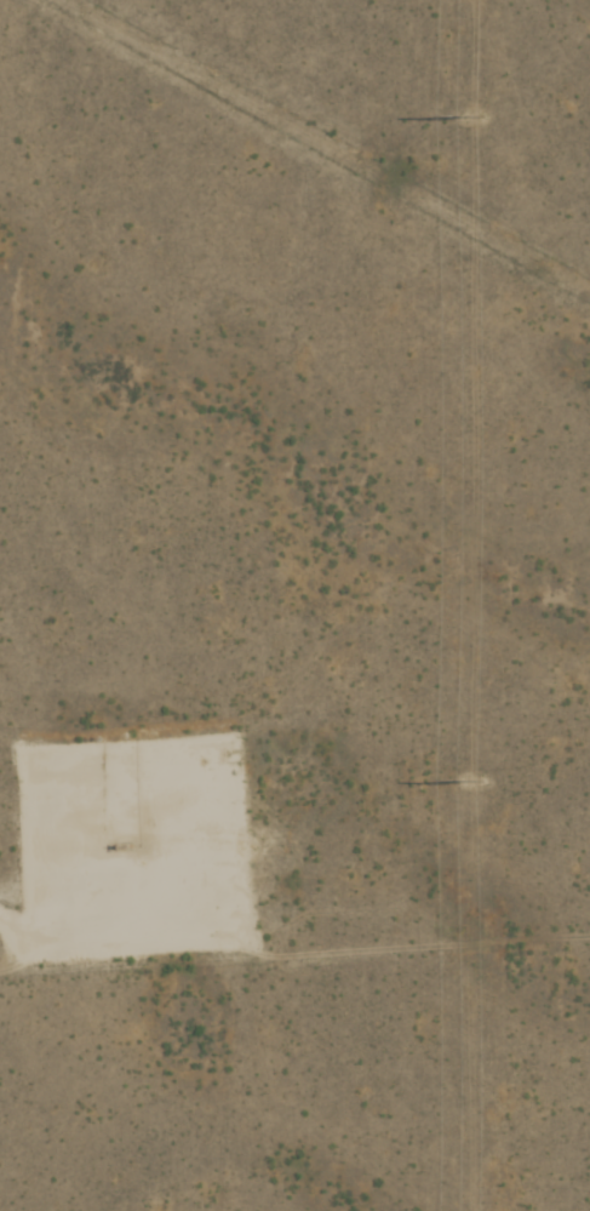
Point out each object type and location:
power tower: (471, 116)
power tower: (472, 782)

